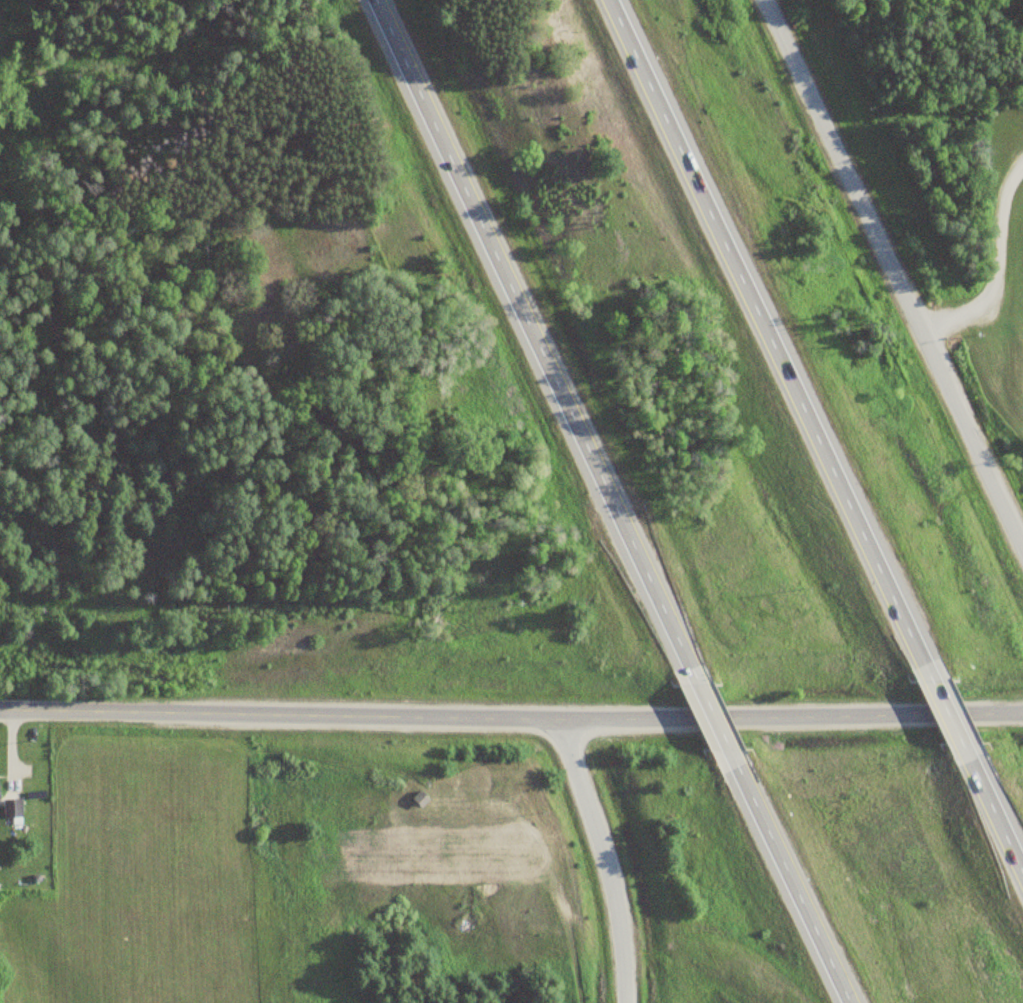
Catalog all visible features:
road: (897, 269)
road: (780, 337)
road: (547, 340)
road: (955, 708)
road: (717, 718)
road: (511, 720)
road: (997, 797)
building: (10, 808)
road: (603, 860)
road: (793, 877)

